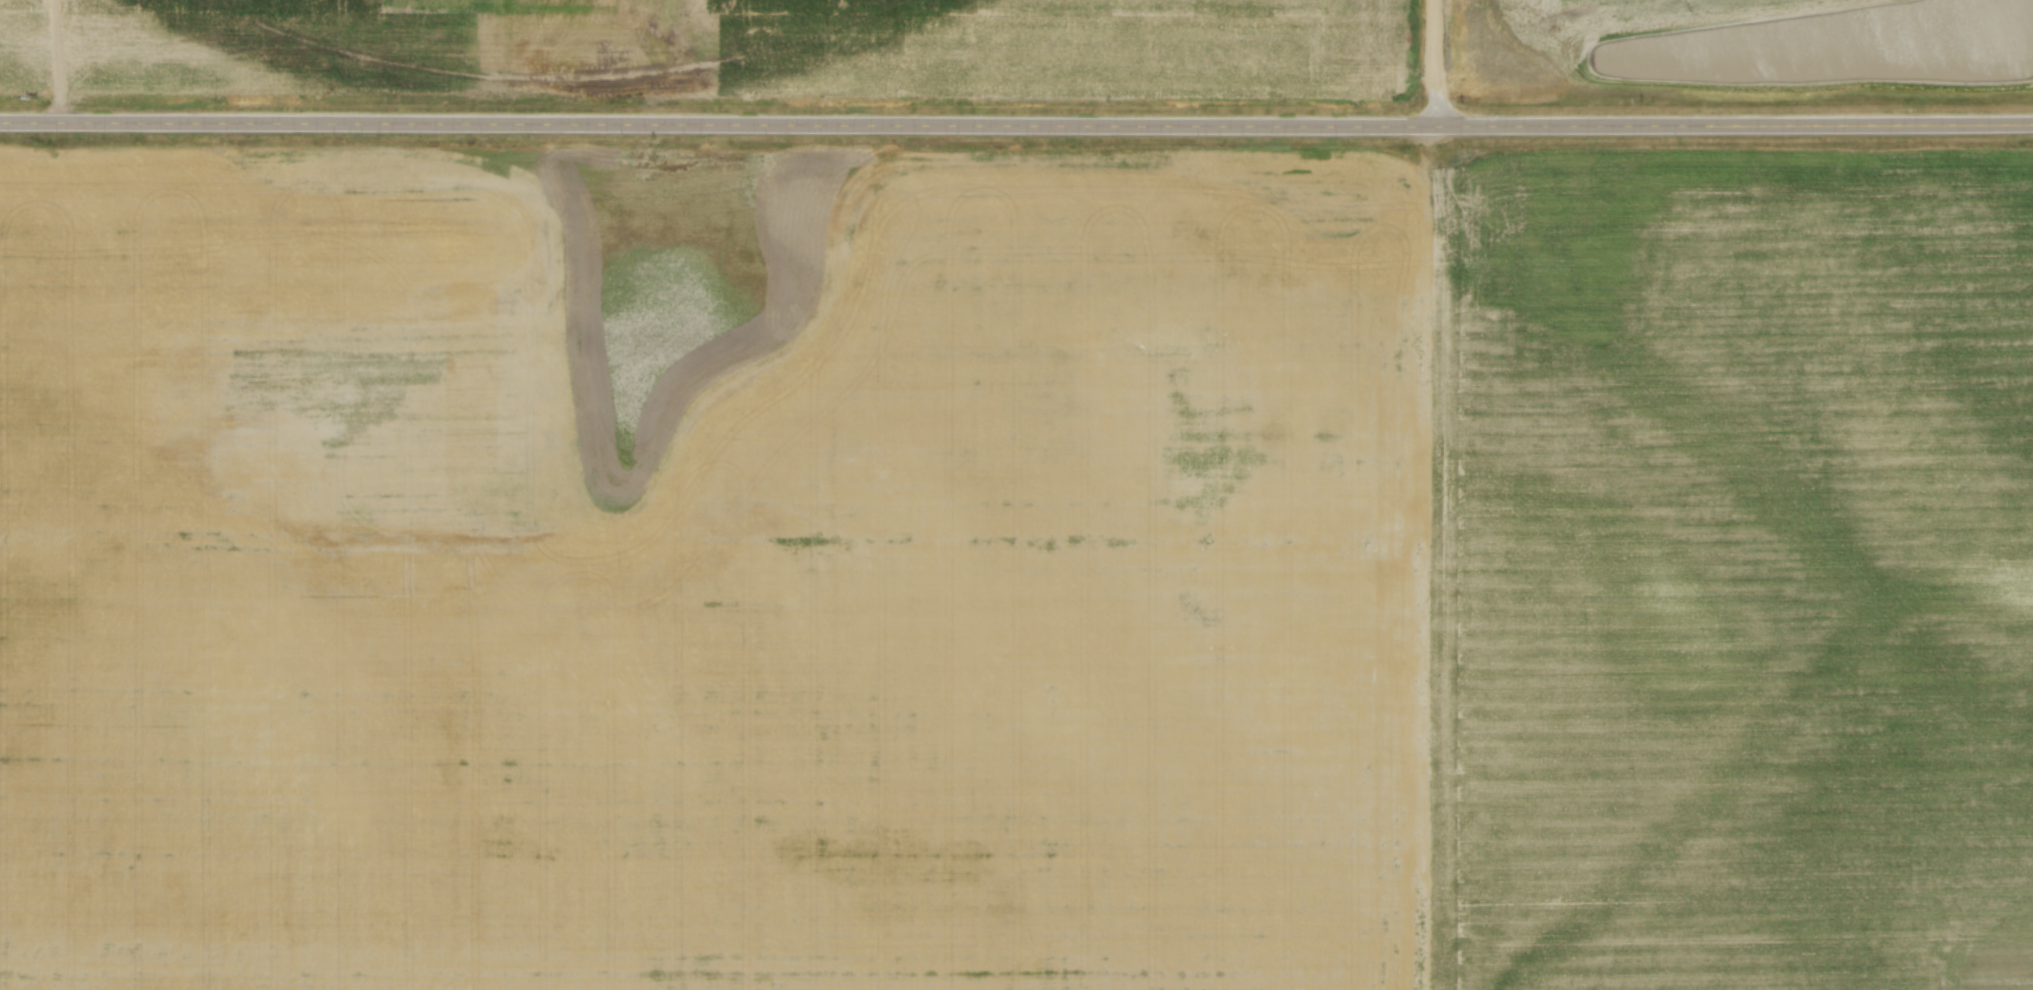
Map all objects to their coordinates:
crop: (1581, 33)
crop: (719, 50)
road: (1437, 62)
road: (1016, 124)
road: (1437, 557)
crop: (1013, 567)

